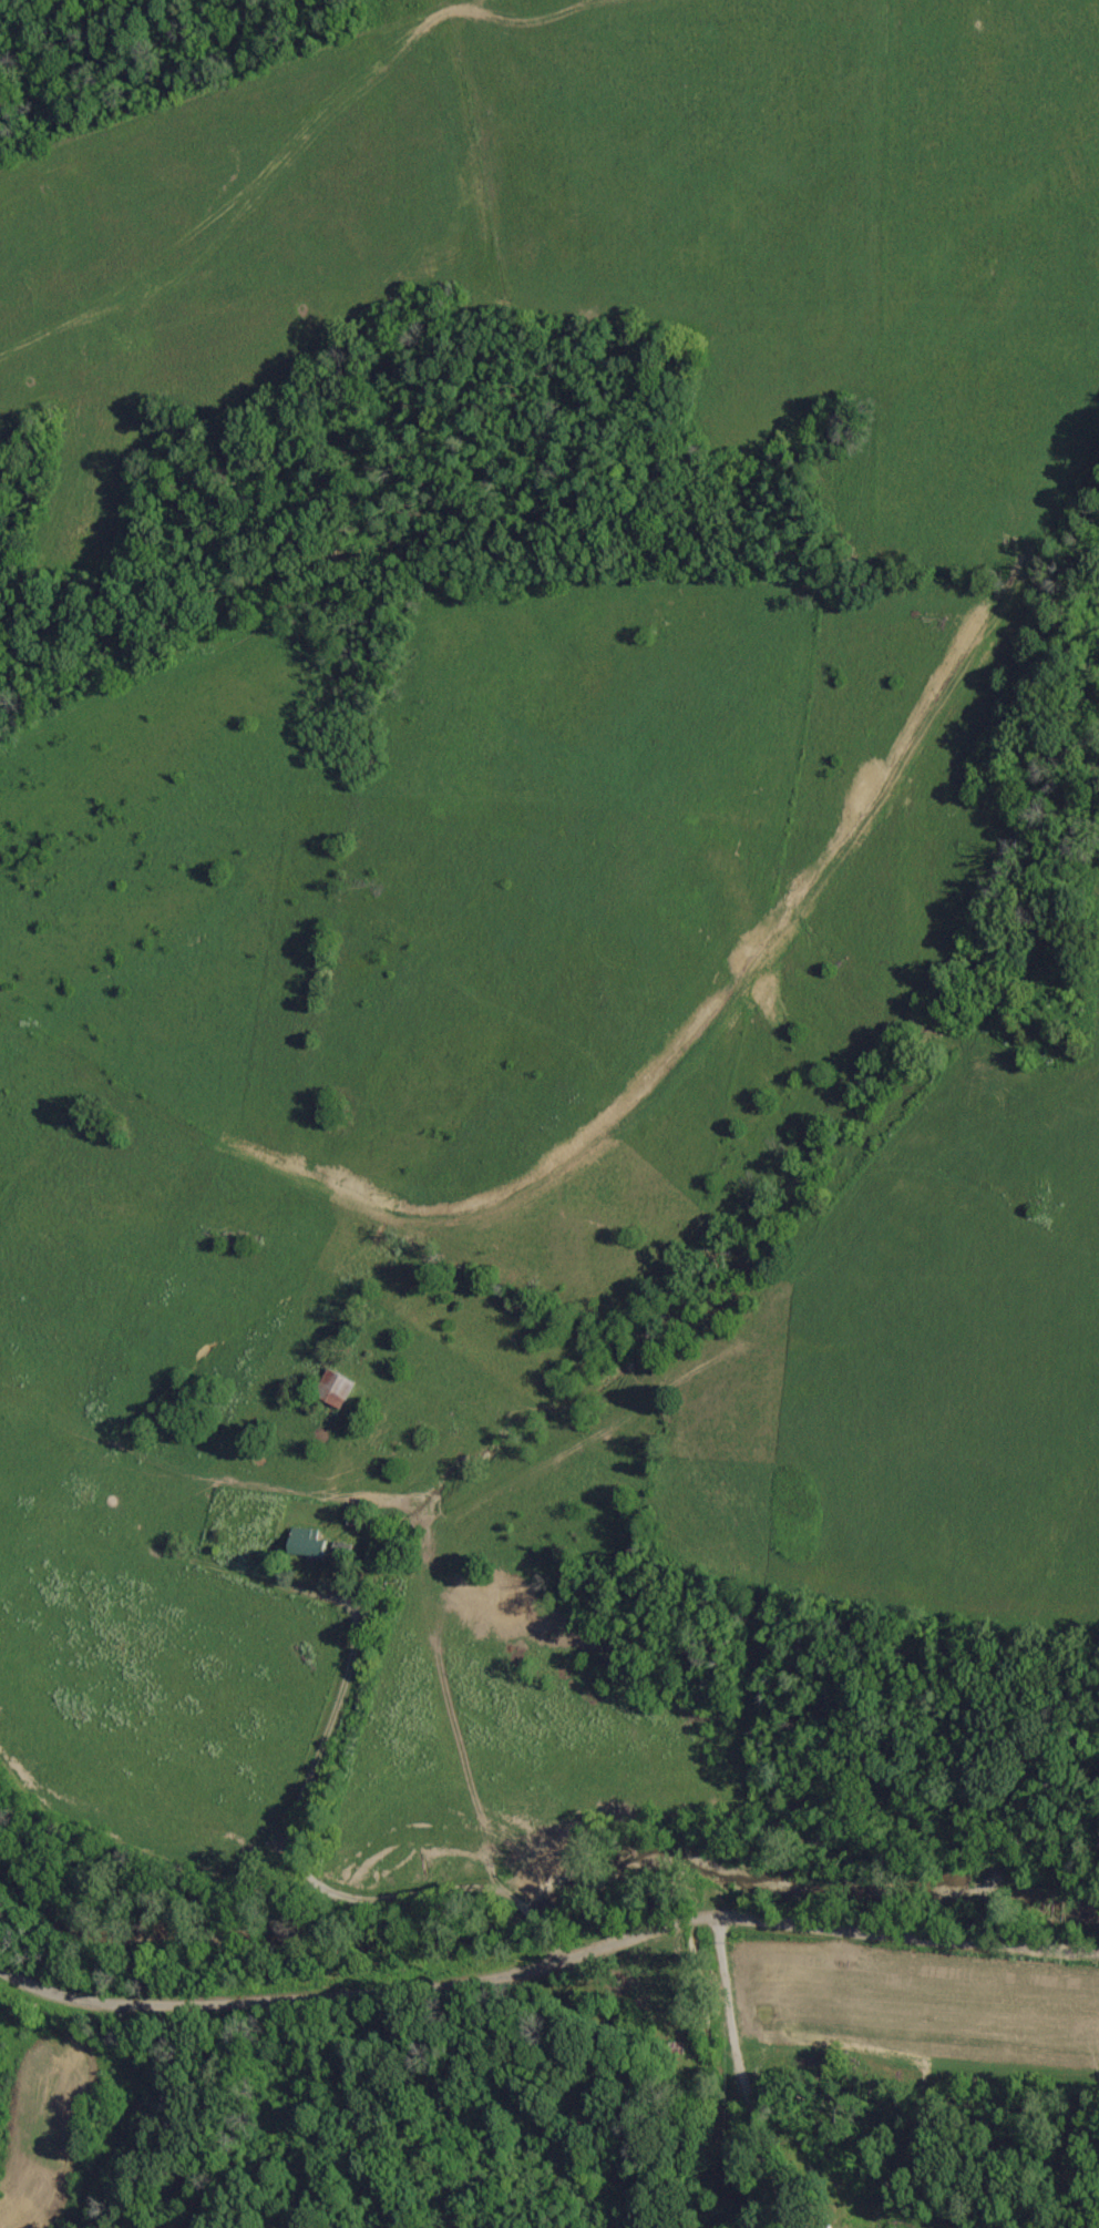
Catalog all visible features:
building: (339, 1388)
building: (312, 1546)
road: (337, 1787)
road: (547, 1938)
road: (548, 1973)
road: (801, 2084)

